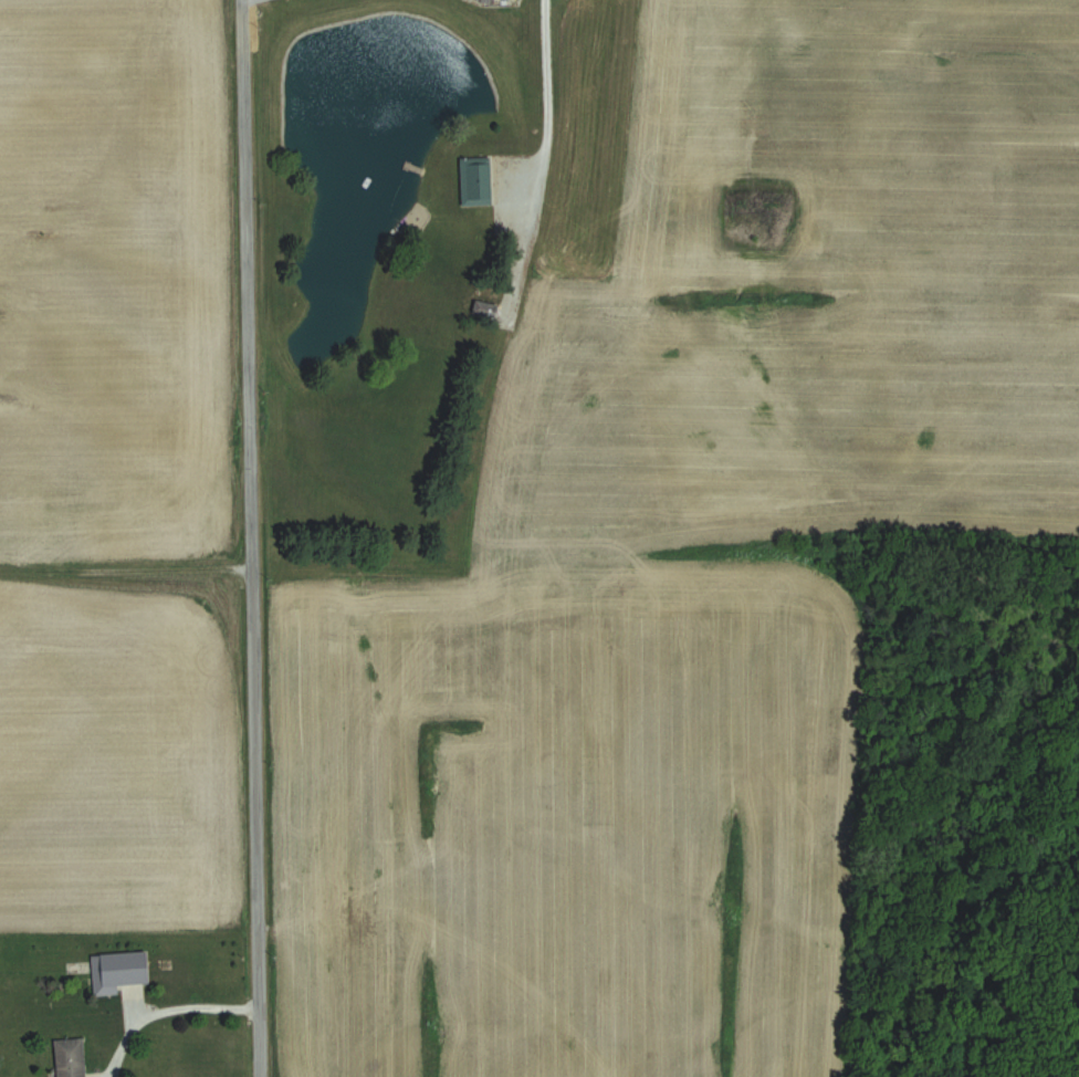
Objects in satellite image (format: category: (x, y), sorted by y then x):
building: (486, 179)
road: (252, 537)
road: (166, 1007)
building: (72, 1057)

